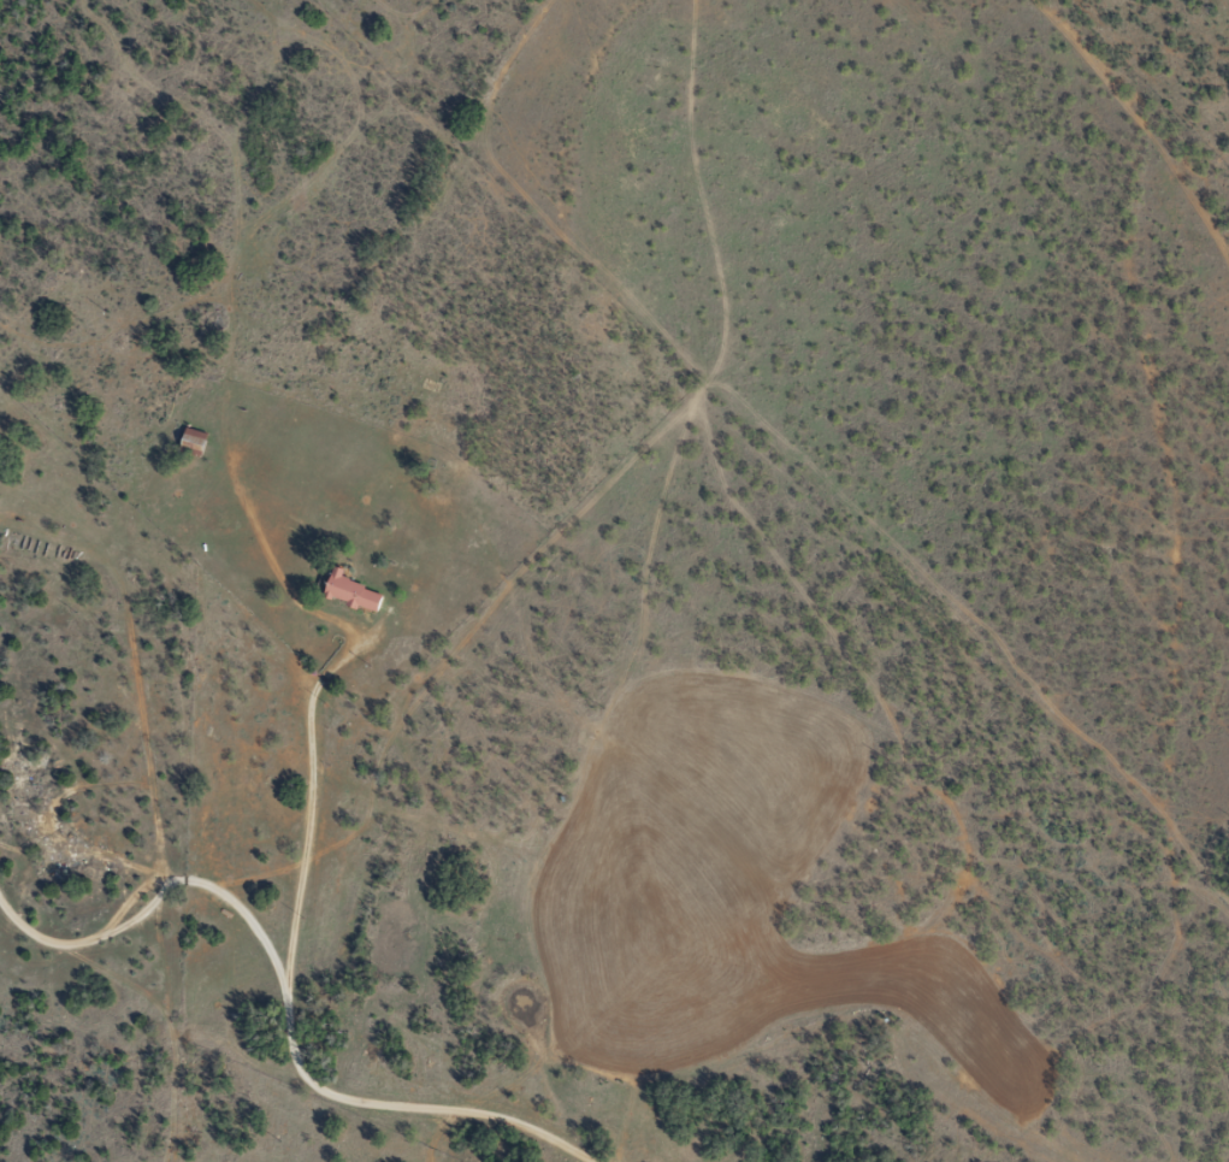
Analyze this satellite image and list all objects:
building: (189, 436)
building: (349, 591)
road: (285, 830)

